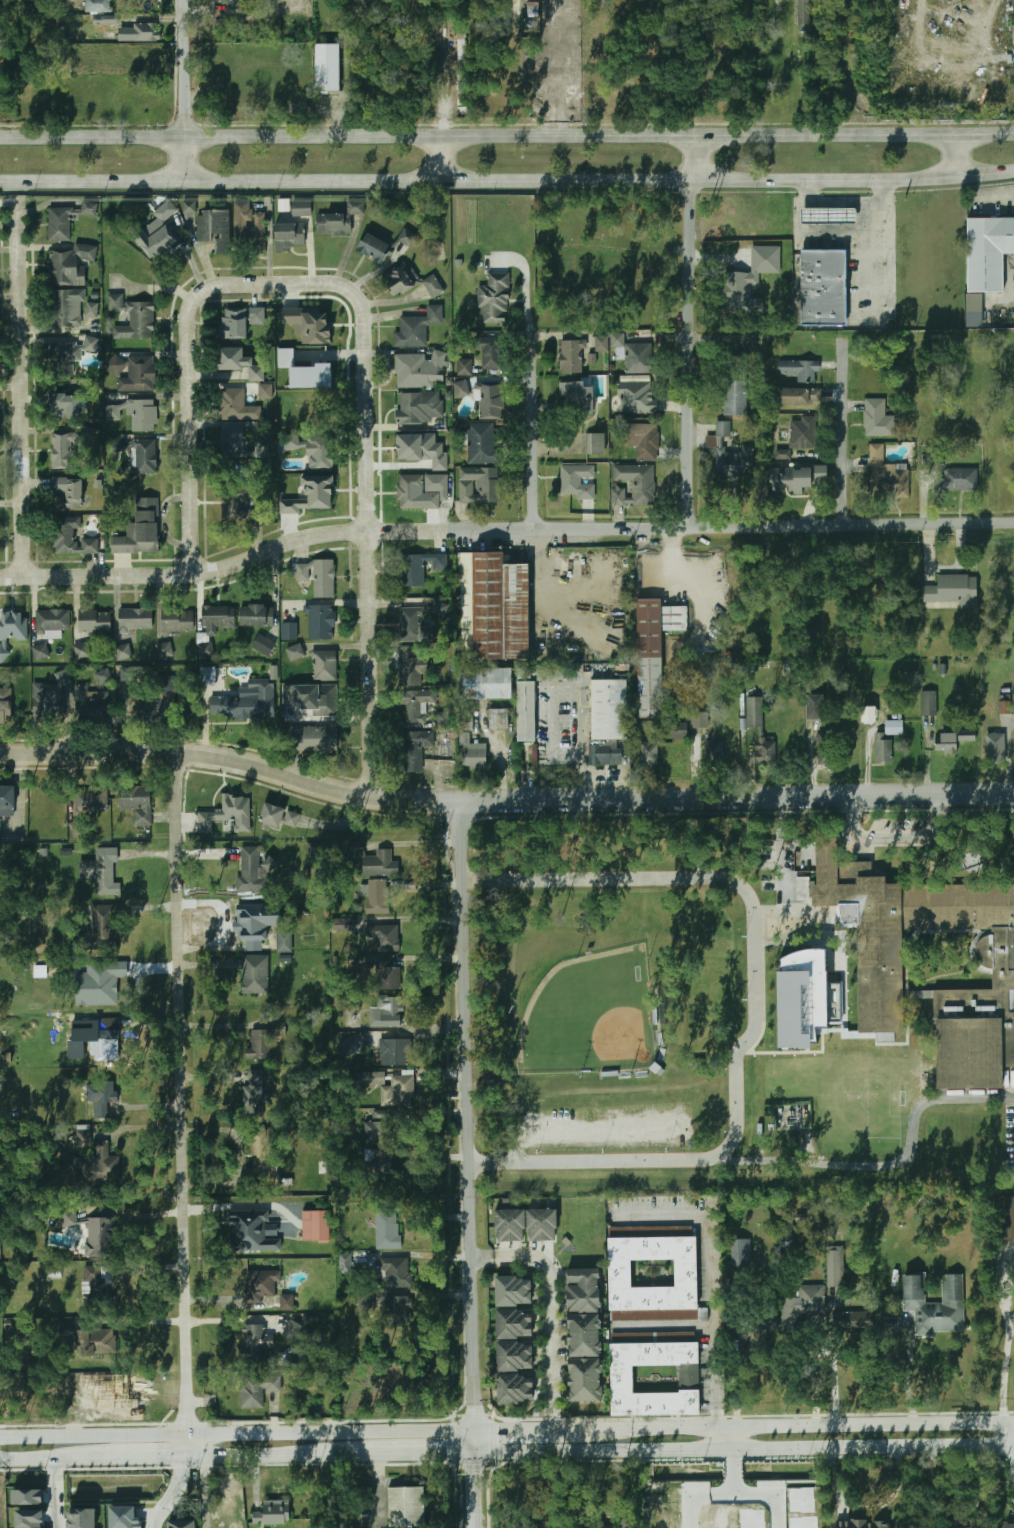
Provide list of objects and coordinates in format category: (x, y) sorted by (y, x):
building: (99, 6)
building: (805, 12)
building: (146, 32)
building: (461, 64)
building: (327, 67)
road: (182, 90)
road: (507, 134)
road: (959, 155)
road: (437, 157)
road: (507, 180)
road: (847, 201)
building: (88, 208)
building: (301, 208)
building: (827, 216)
gas station: (827, 216)
building: (339, 219)
building: (59, 224)
building: (214, 229)
building: (249, 229)
road: (813, 230)
building: (290, 237)
building: (407, 237)
building: (163, 241)
building: (374, 248)
building: (988, 252)
road: (865, 261)
building: (70, 265)
building: (750, 280)
building: (400, 281)
building: (433, 286)
building: (822, 286)
road: (1011, 296)
building: (494, 298)
building: (65, 308)
road: (531, 308)
building: (92, 310)
building: (974, 310)
building: (133, 317)
building: (239, 322)
building: (309, 324)
building: (417, 328)
road: (690, 329)
road: (551, 335)
building: (602, 343)
building: (489, 351)
road: (189, 352)
building: (69, 355)
building: (636, 355)
building: (572, 357)
building: (240, 363)
building: (464, 367)
building: (419, 370)
building: (799, 370)
building: (133, 372)
building: (312, 376)
building: (635, 377)
building: (736, 387)
road: (22, 388)
building: (461, 389)
building: (264, 391)
building: (798, 396)
building: (636, 397)
building: (577, 399)
building: (491, 402)
building: (235, 406)
building: (64, 407)
building: (420, 407)
building: (142, 416)
building: (877, 419)
road: (846, 427)
building: (803, 432)
road: (535, 433)
building: (642, 440)
building: (117, 444)
building: (231, 444)
building: (483, 444)
building: (597, 444)
building: (422, 447)
road: (558, 448)
building: (62, 450)
building: (322, 453)
building: (783, 454)
building: (731, 455)
building: (145, 457)
road: (398, 465)
building: (888, 474)
building: (796, 478)
building: (958, 478)
building: (578, 481)
building: (480, 485)
building: (634, 485)
building: (70, 490)
building: (415, 493)
building: (313, 496)
building: (239, 507)
road: (590, 516)
road: (468, 518)
road: (439, 522)
building: (141, 529)
road: (503, 530)
building: (70, 537)
road: (370, 543)
building: (419, 568)
building: (318, 577)
building: (951, 589)
building: (494, 608)
building: (257, 616)
building: (135, 619)
building: (177, 620)
building: (95, 621)
building: (51, 622)
building: (320, 622)
building: (411, 624)
building: (213, 626)
building: (11, 630)
building: (289, 631)
building: (263, 645)
building: (164, 650)
building: (654, 650)
building: (41, 651)
building: (81, 651)
building: (121, 652)
building: (296, 652)
building: (324, 665)
building: (411, 665)
building: (130, 674)
building: (208, 676)
building: (104, 677)
building: (487, 683)
building: (50, 698)
building: (311, 698)
building: (156, 700)
building: (248, 701)
building: (91, 703)
building: (929, 703)
building: (5, 705)
building: (416, 706)
building: (814, 707)
building: (1005, 708)
building: (526, 711)
building: (754, 711)
building: (868, 715)
building: (498, 718)
building: (443, 719)
building: (700, 720)
building: (607, 721)
building: (680, 730)
building: (313, 739)
building: (887, 740)
building: (951, 740)
building: (996, 748)
building: (414, 749)
building: (650, 753)
building: (765, 753)
building: (715, 754)
building: (475, 756)
building: (824, 756)
road: (233, 761)
road: (582, 776)
road: (438, 783)
road: (738, 796)
building: (133, 798)
building: (8, 801)
building: (89, 801)
road: (855, 806)
road: (940, 809)
building: (227, 814)
building: (282, 817)
road: (892, 838)
building: (774, 857)
building: (380, 863)
building: (245, 865)
building: (102, 870)
road: (746, 895)
building: (377, 898)
building: (252, 924)
building: (345, 924)
building: (101, 933)
building: (386, 939)
building: (284, 944)
building: (878, 958)
building: (255, 974)
building: (388, 975)
building: (95, 985)
building: (807, 1000)
building: (390, 1012)
park: (590, 1016)
building: (107, 1034)
building: (354, 1044)
building: (255, 1048)
building: (395, 1052)
building: (371, 1078)
building: (254, 1093)
building: (391, 1094)
building: (102, 1096)
road: (184, 1104)
building: (375, 1132)
building: (83, 1138)
building: (262, 1158)
road: (764, 1160)
building: (381, 1161)
building: (101, 1163)
road: (471, 1164)
building: (1010, 1173)
road: (232, 1206)
road: (660, 1215)
building: (1006, 1217)
building: (68, 1219)
building: (316, 1225)
building: (514, 1225)
building: (546, 1225)
building: (785, 1229)
building: (387, 1230)
building: (252, 1231)
building: (100, 1236)
building: (741, 1254)
road: (483, 1260)
building: (345, 1263)
building: (836, 1266)
building: (395, 1271)
building: (621, 1274)
building: (258, 1285)
building: (97, 1286)
building: (587, 1290)
building: (515, 1292)
building: (806, 1300)
building: (287, 1302)
building: (366, 1304)
building: (933, 1304)
building: (399, 1310)
road: (549, 1310)
road: (714, 1319)
building: (856, 1320)
building: (517, 1324)
road: (663, 1327)
building: (291, 1330)
building: (587, 1335)
building: (61, 1337)
building: (95, 1341)
building: (252, 1344)
building: (516, 1356)
road: (832, 1369)
road: (1004, 1372)
road: (907, 1375)
building: (622, 1378)
building: (588, 1380)
building: (517, 1388)
building: (257, 1390)
traffic signals: (476, 1411)
road: (551, 1417)
road: (815, 1424)
traffic signals: (493, 1428)
road: (546, 1428)
road: (237, 1433)
road: (1003, 1433)
road: (719, 1437)
road: (745, 1448)
road: (394, 1453)
traffic signals: (453, 1453)
road: (251, 1456)
road: (118, 1459)
road: (23, 1461)
road: (734, 1471)
traffic signals: (478, 1472)
road: (204, 1492)
road: (771, 1493)
road: (57, 1494)
road: (176, 1494)
road: (695, 1494)
building: (27, 1497)
building: (406, 1507)
road: (866, 1507)
building: (272, 1513)
building: (124, 1517)
building: (29, 1518)
building: (81, 1518)
building: (182, 1524)
building: (861, 1525)
building: (1009, 1525)

